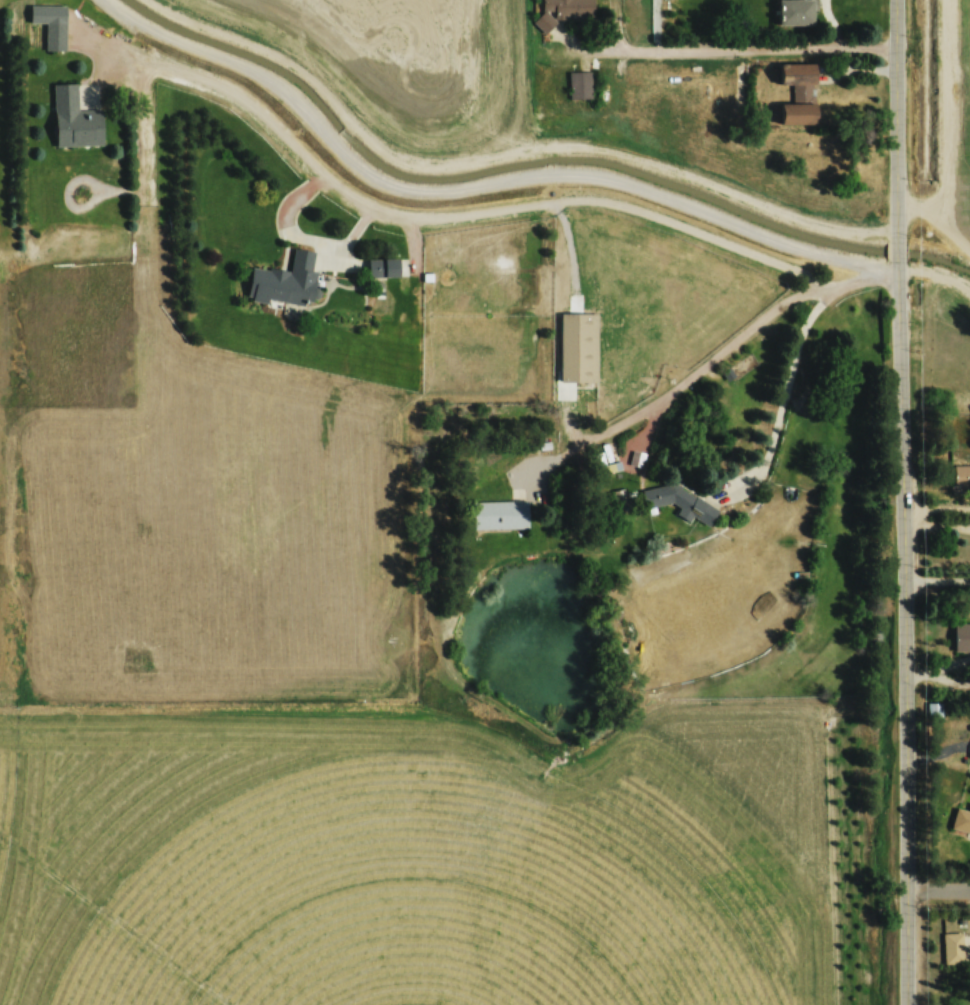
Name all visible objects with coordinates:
building: (569, 8)
building: (794, 12)
building: (54, 36)
road: (742, 48)
road: (151, 64)
building: (797, 78)
building: (579, 85)
road: (900, 118)
building: (74, 119)
road: (518, 179)
road: (534, 203)
road: (937, 221)
road: (900, 250)
building: (382, 268)
building: (285, 281)
road: (722, 355)
building: (561, 374)
road: (789, 390)
building: (961, 476)
building: (683, 502)
building: (499, 515)
road: (940, 579)
road: (911, 634)
building: (961, 636)
building: (961, 820)
road: (940, 888)
building: (953, 947)

